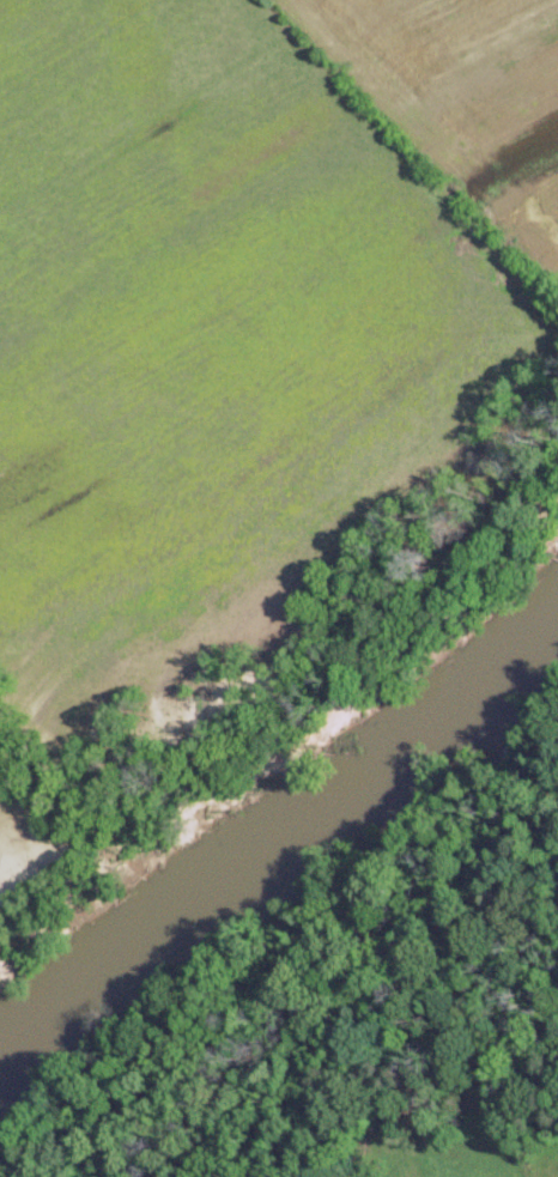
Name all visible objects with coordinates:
river: (287, 836)

